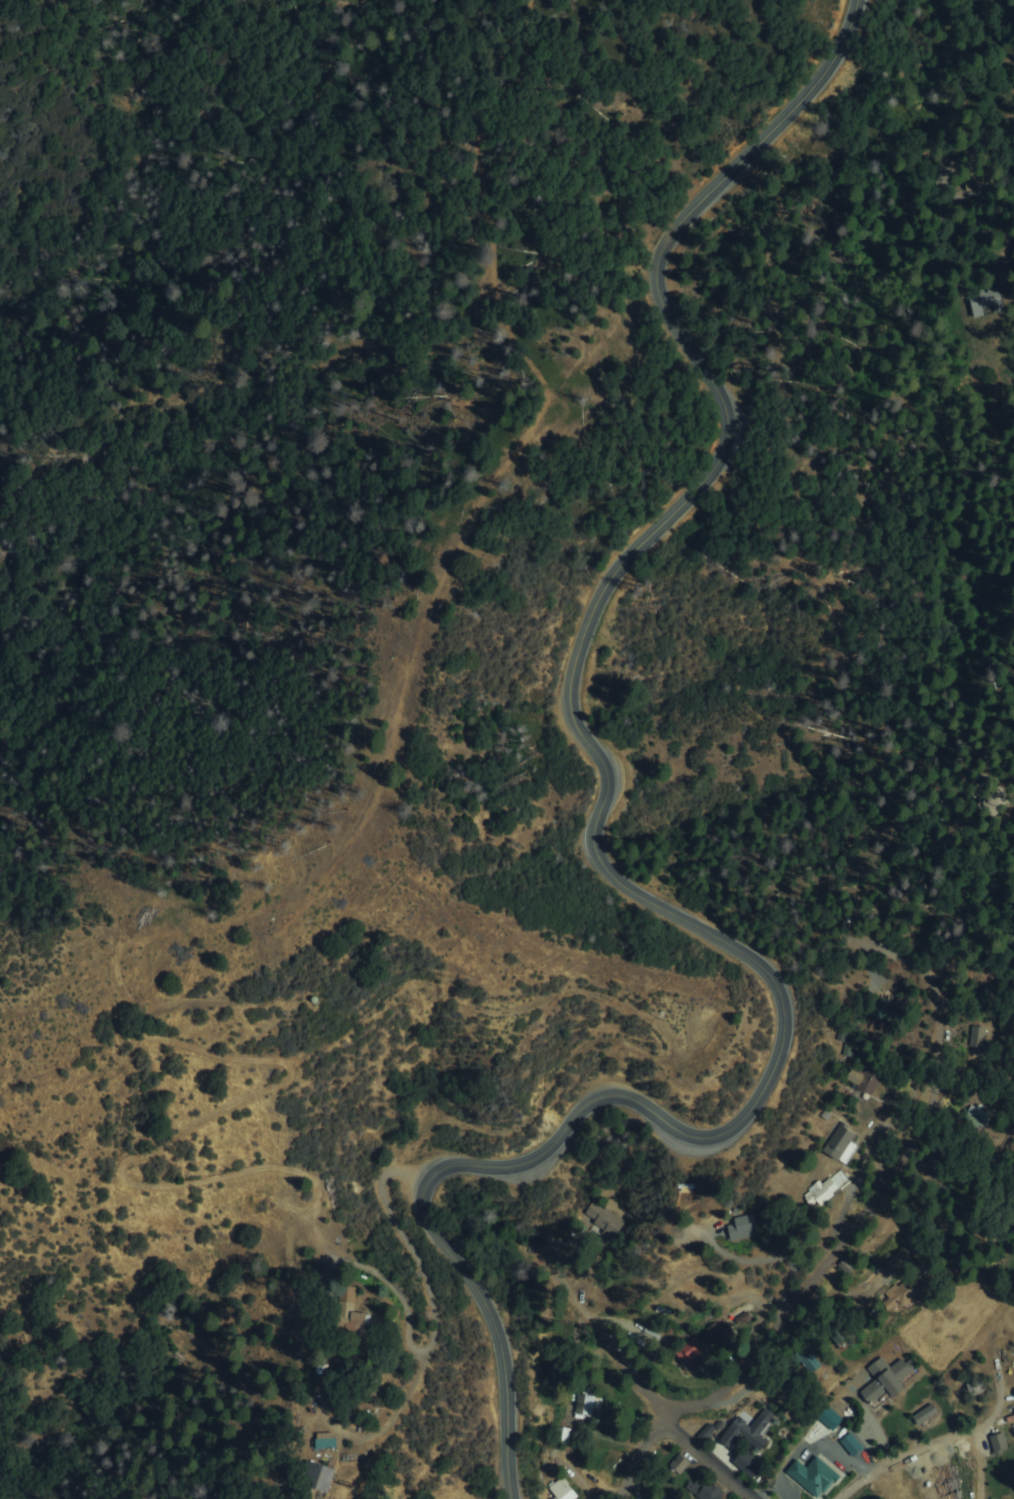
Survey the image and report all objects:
road: (814, 167)
building: (985, 304)
road: (1005, 865)
road: (616, 878)
building: (978, 1039)
building: (857, 1078)
building: (841, 1145)
building: (821, 1192)
building: (601, 1219)
building: (745, 1227)
building: (1013, 1254)
road: (832, 1258)
building: (899, 1261)
building: (898, 1295)
road: (433, 1306)
building: (352, 1309)
building: (742, 1318)
building: (716, 1331)
building: (689, 1351)
building: (811, 1363)
building: (887, 1381)
building: (587, 1407)
building: (923, 1415)
building: (747, 1429)
building: (561, 1436)
building: (325, 1441)
road: (935, 1441)
building: (997, 1441)
building: (848, 1444)
road: (690, 1445)
building: (677, 1462)
road: (975, 1464)
building: (321, 1475)
building: (811, 1475)
building: (562, 1488)
building: (703, 1488)

